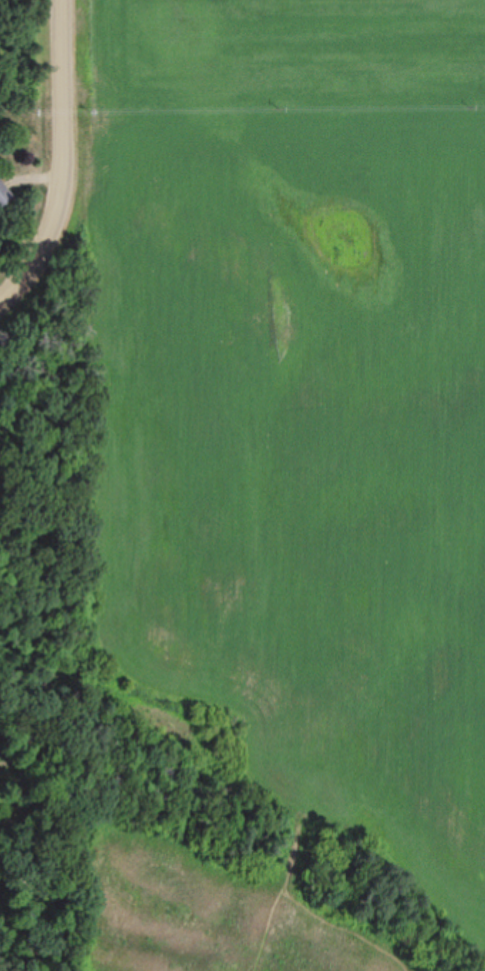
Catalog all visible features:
road: (59, 159)
building: (4, 192)

